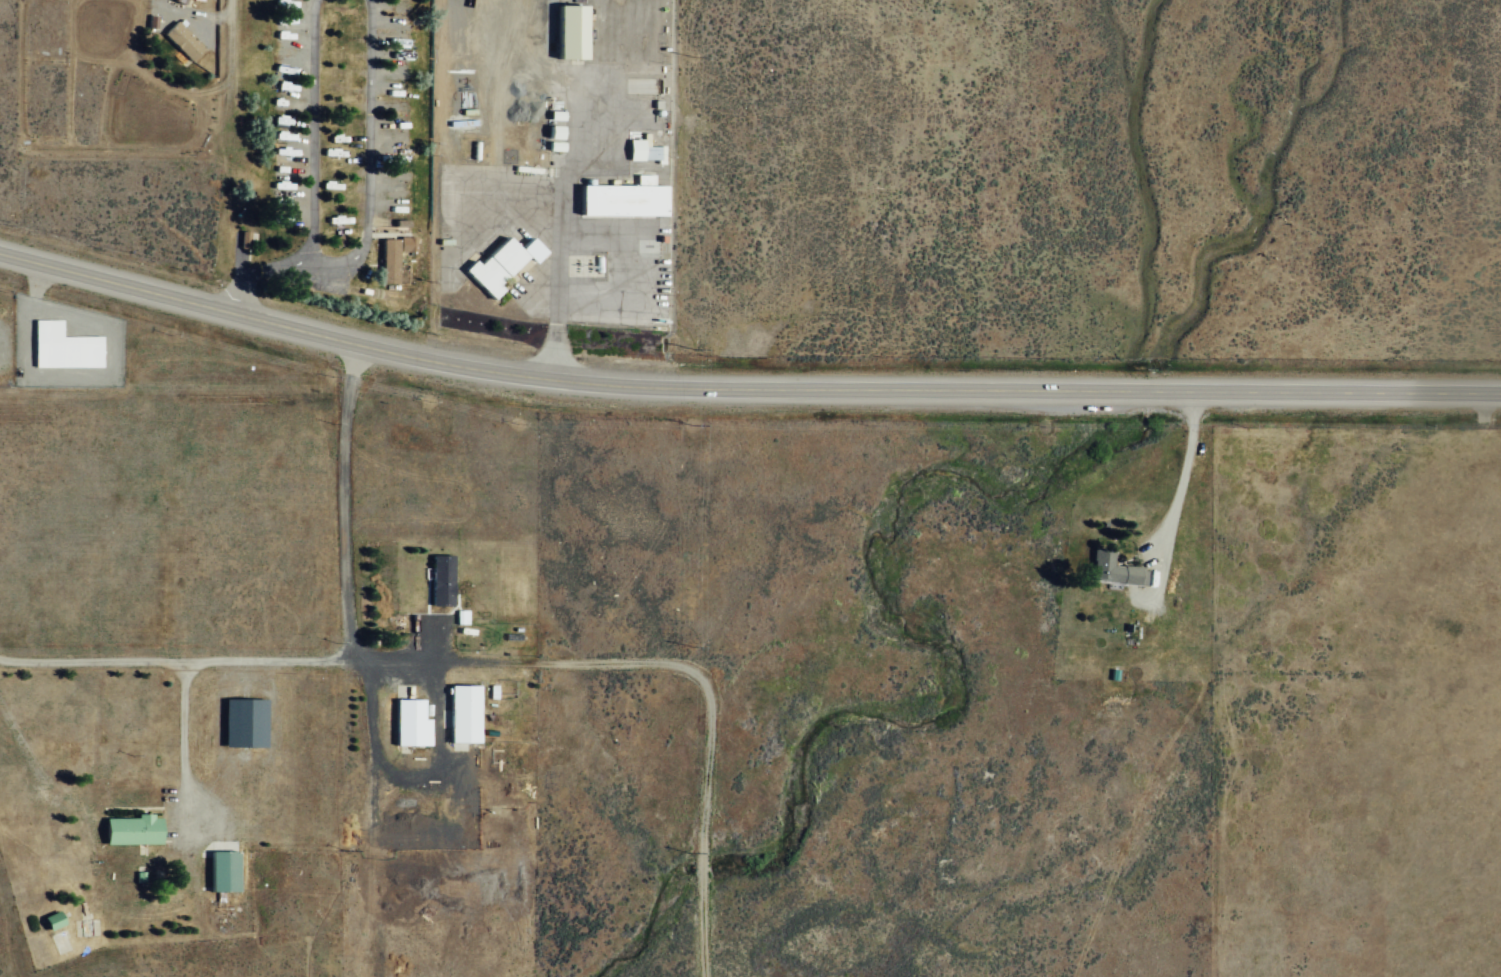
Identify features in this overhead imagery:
building: (572, 30)
building: (183, 40)
building: (624, 198)
building: (244, 238)
building: (407, 243)
building: (389, 260)
building: (503, 263)
building: (63, 347)
road: (562, 382)
road: (1319, 391)
building: (1112, 570)
building: (441, 579)
building: (464, 713)
building: (245, 722)
building: (411, 723)
building: (133, 830)
road: (48, 862)
building: (224, 871)
building: (53, 920)

